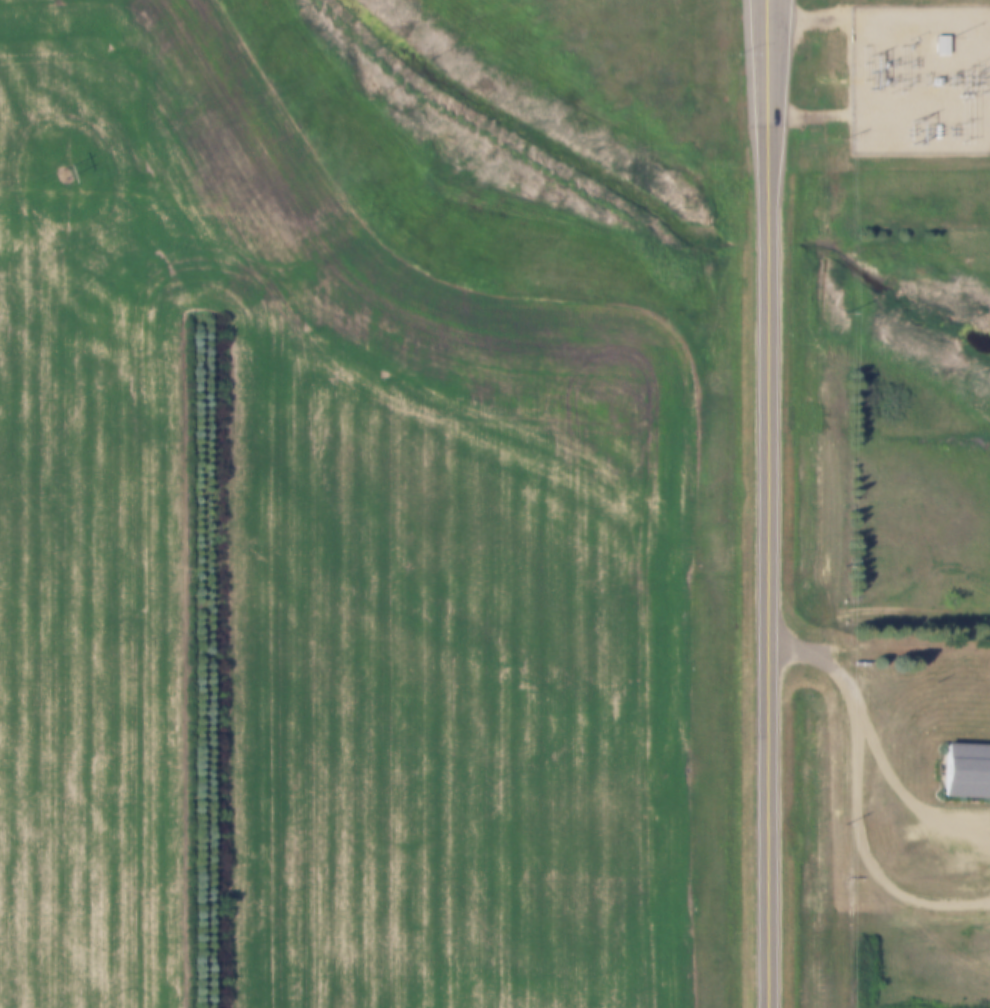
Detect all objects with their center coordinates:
road: (765, 27)
building: (938, 39)
power substation: (920, 79)
road: (764, 531)
road: (884, 607)
road: (823, 659)
road: (856, 759)
building: (965, 763)

